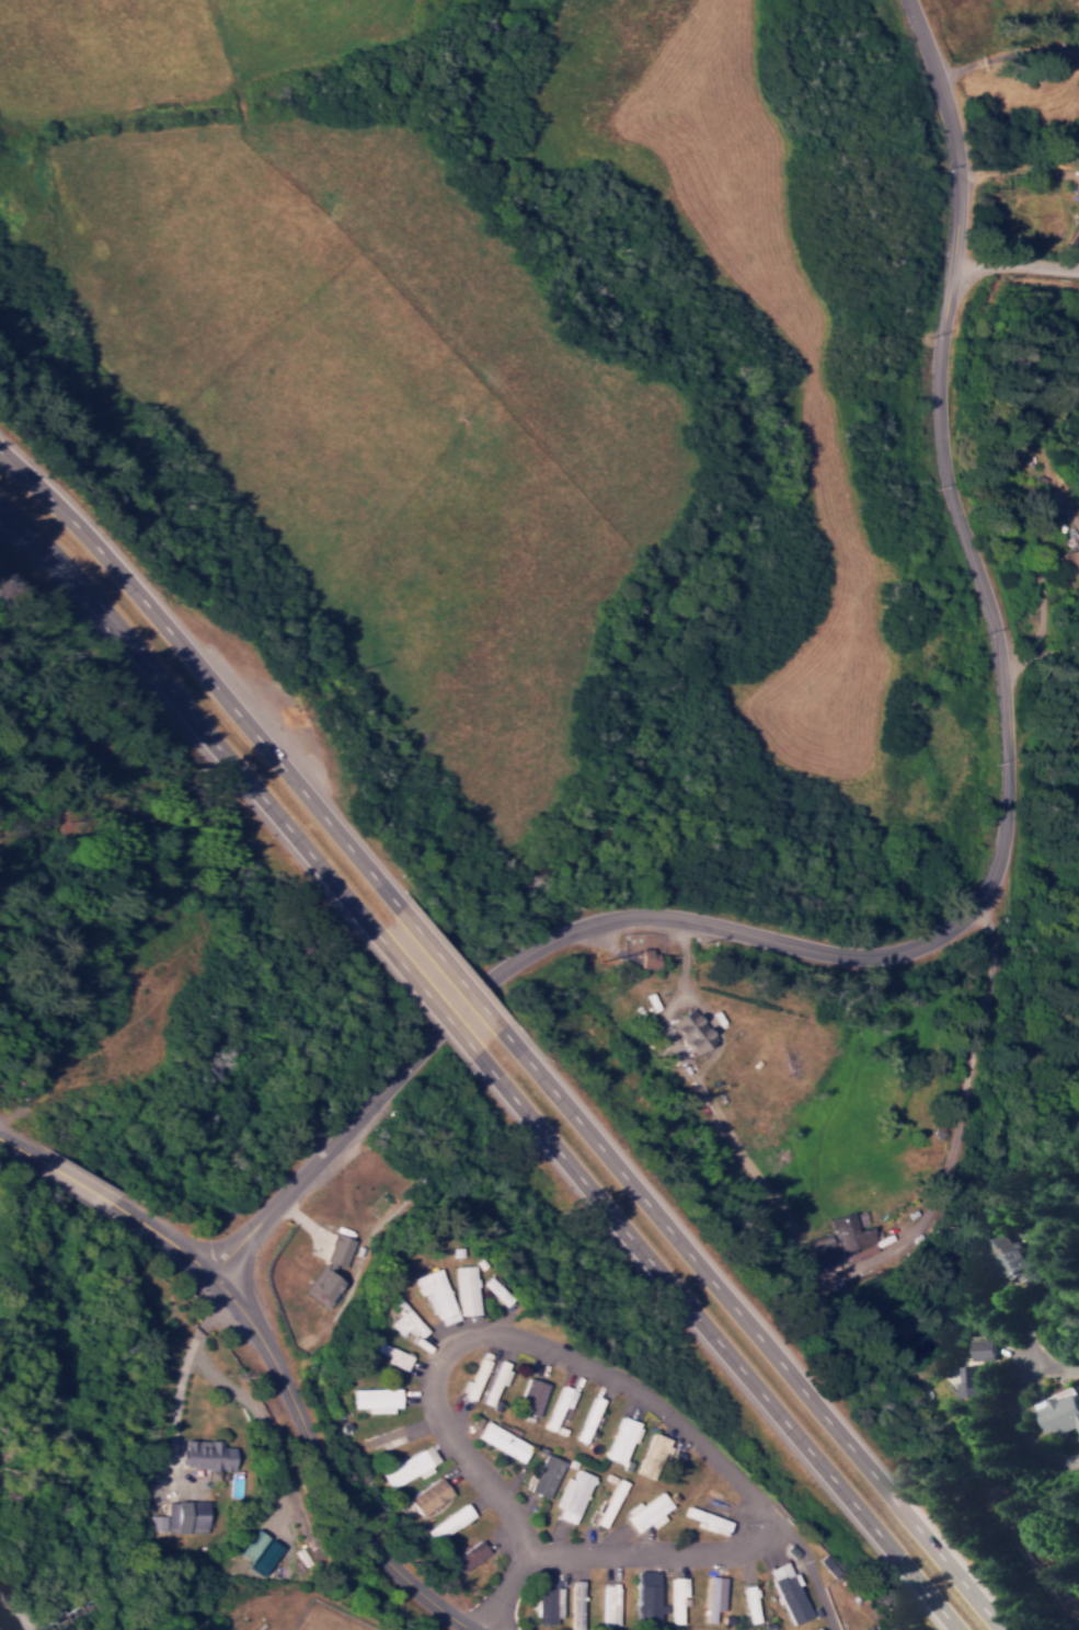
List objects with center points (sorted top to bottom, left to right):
road: (1015, 263)
road: (941, 429)
building: (1075, 560)
road: (202, 670)
road: (187, 708)
road: (563, 933)
building: (645, 959)
road: (451, 975)
road: (427, 1001)
road: (987, 1012)
building: (689, 1030)
road: (23, 1149)
road: (79, 1182)
building: (850, 1236)
building: (337, 1249)
building: (1007, 1258)
building: (323, 1283)
building: (463, 1289)
building: (494, 1290)
building: (434, 1294)
building: (403, 1320)
road: (758, 1338)
building: (983, 1347)
road: (722, 1352)
building: (388, 1353)
road: (1060, 1362)
road: (592, 1369)
building: (472, 1379)
building: (495, 1379)
building: (971, 1380)
building: (531, 1397)
building: (372, 1399)
building: (559, 1404)
road: (298, 1409)
building: (1060, 1412)
building: (620, 1438)
building: (500, 1440)
building: (651, 1455)
building: (205, 1456)
building: (409, 1467)
building: (546, 1476)
building: (428, 1495)
building: (573, 1495)
building: (609, 1502)
building: (646, 1511)
building: (181, 1517)
building: (707, 1520)
building: (448, 1522)
building: (248, 1545)
building: (468, 1556)
road: (506, 1589)
building: (788, 1593)
building: (711, 1595)
building: (676, 1597)
railway: (249, 1599)
building: (610, 1602)
building: (576, 1603)
building: (647, 1603)
building: (548, 1604)

